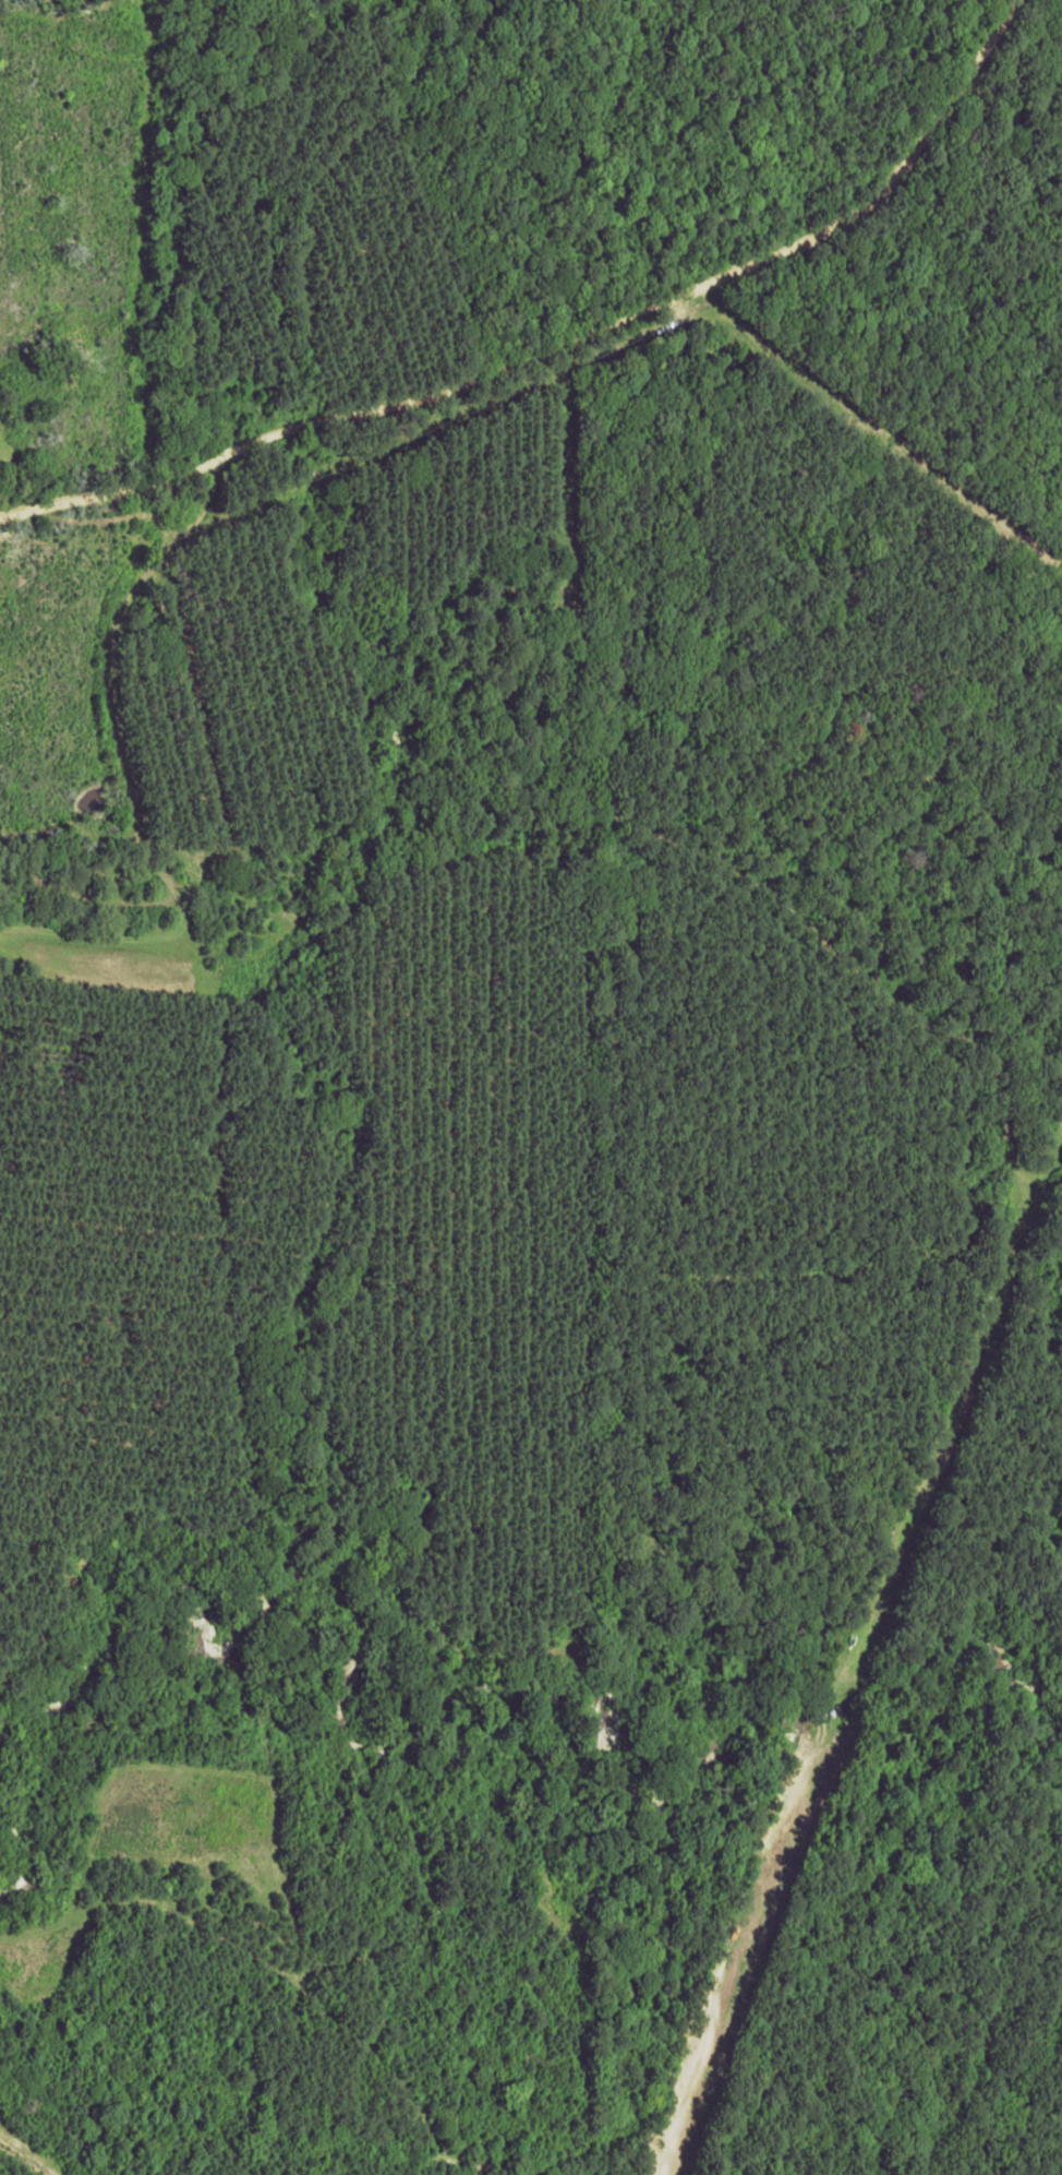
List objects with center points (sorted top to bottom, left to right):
road: (582, 362)

